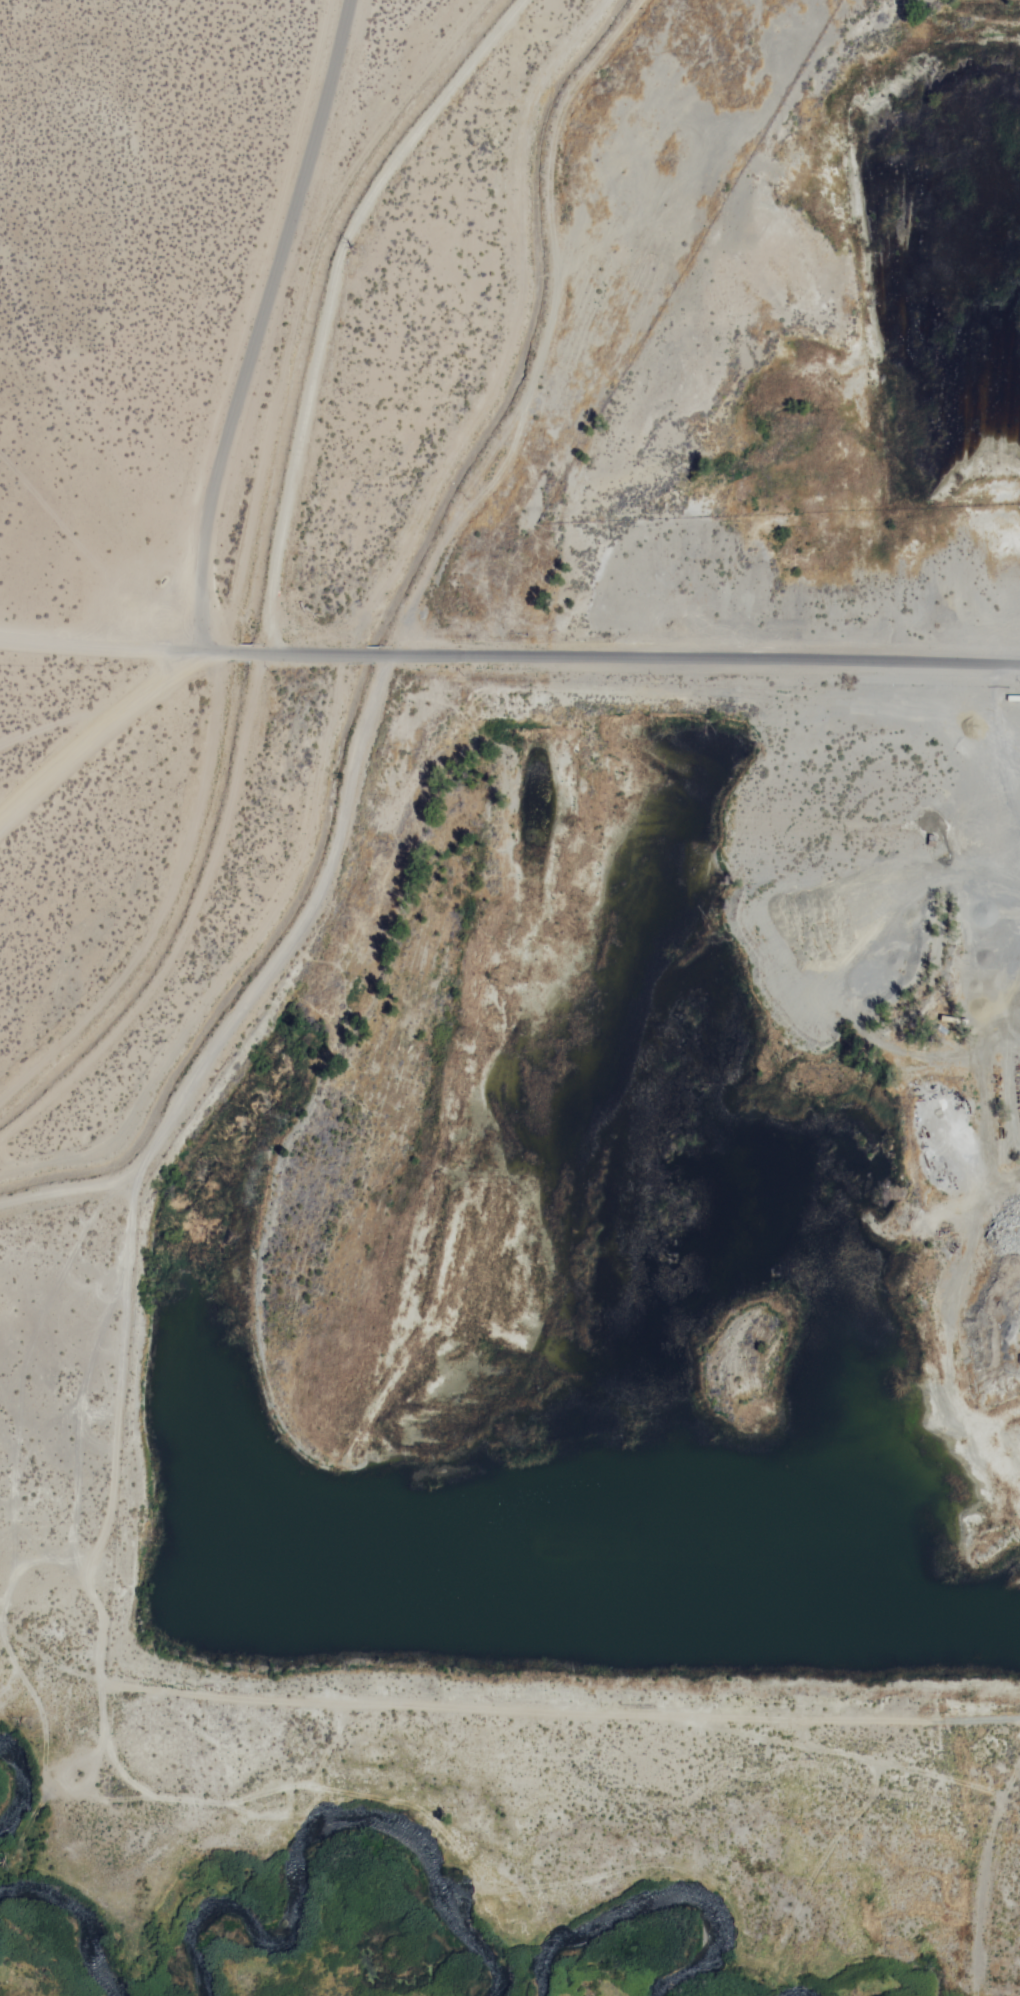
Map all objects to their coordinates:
road: (333, 300)
road: (260, 324)
road: (520, 337)
road: (85, 564)
road: (95, 646)
road: (215, 652)
road: (247, 654)
road: (303, 654)
road: (371, 656)
road: (706, 656)
road: (61, 719)
road: (92, 731)
road: (166, 904)
road: (259, 986)
river: (0, 1795)
river: (369, 1867)
river: (630, 1927)
river: (67, 1933)

